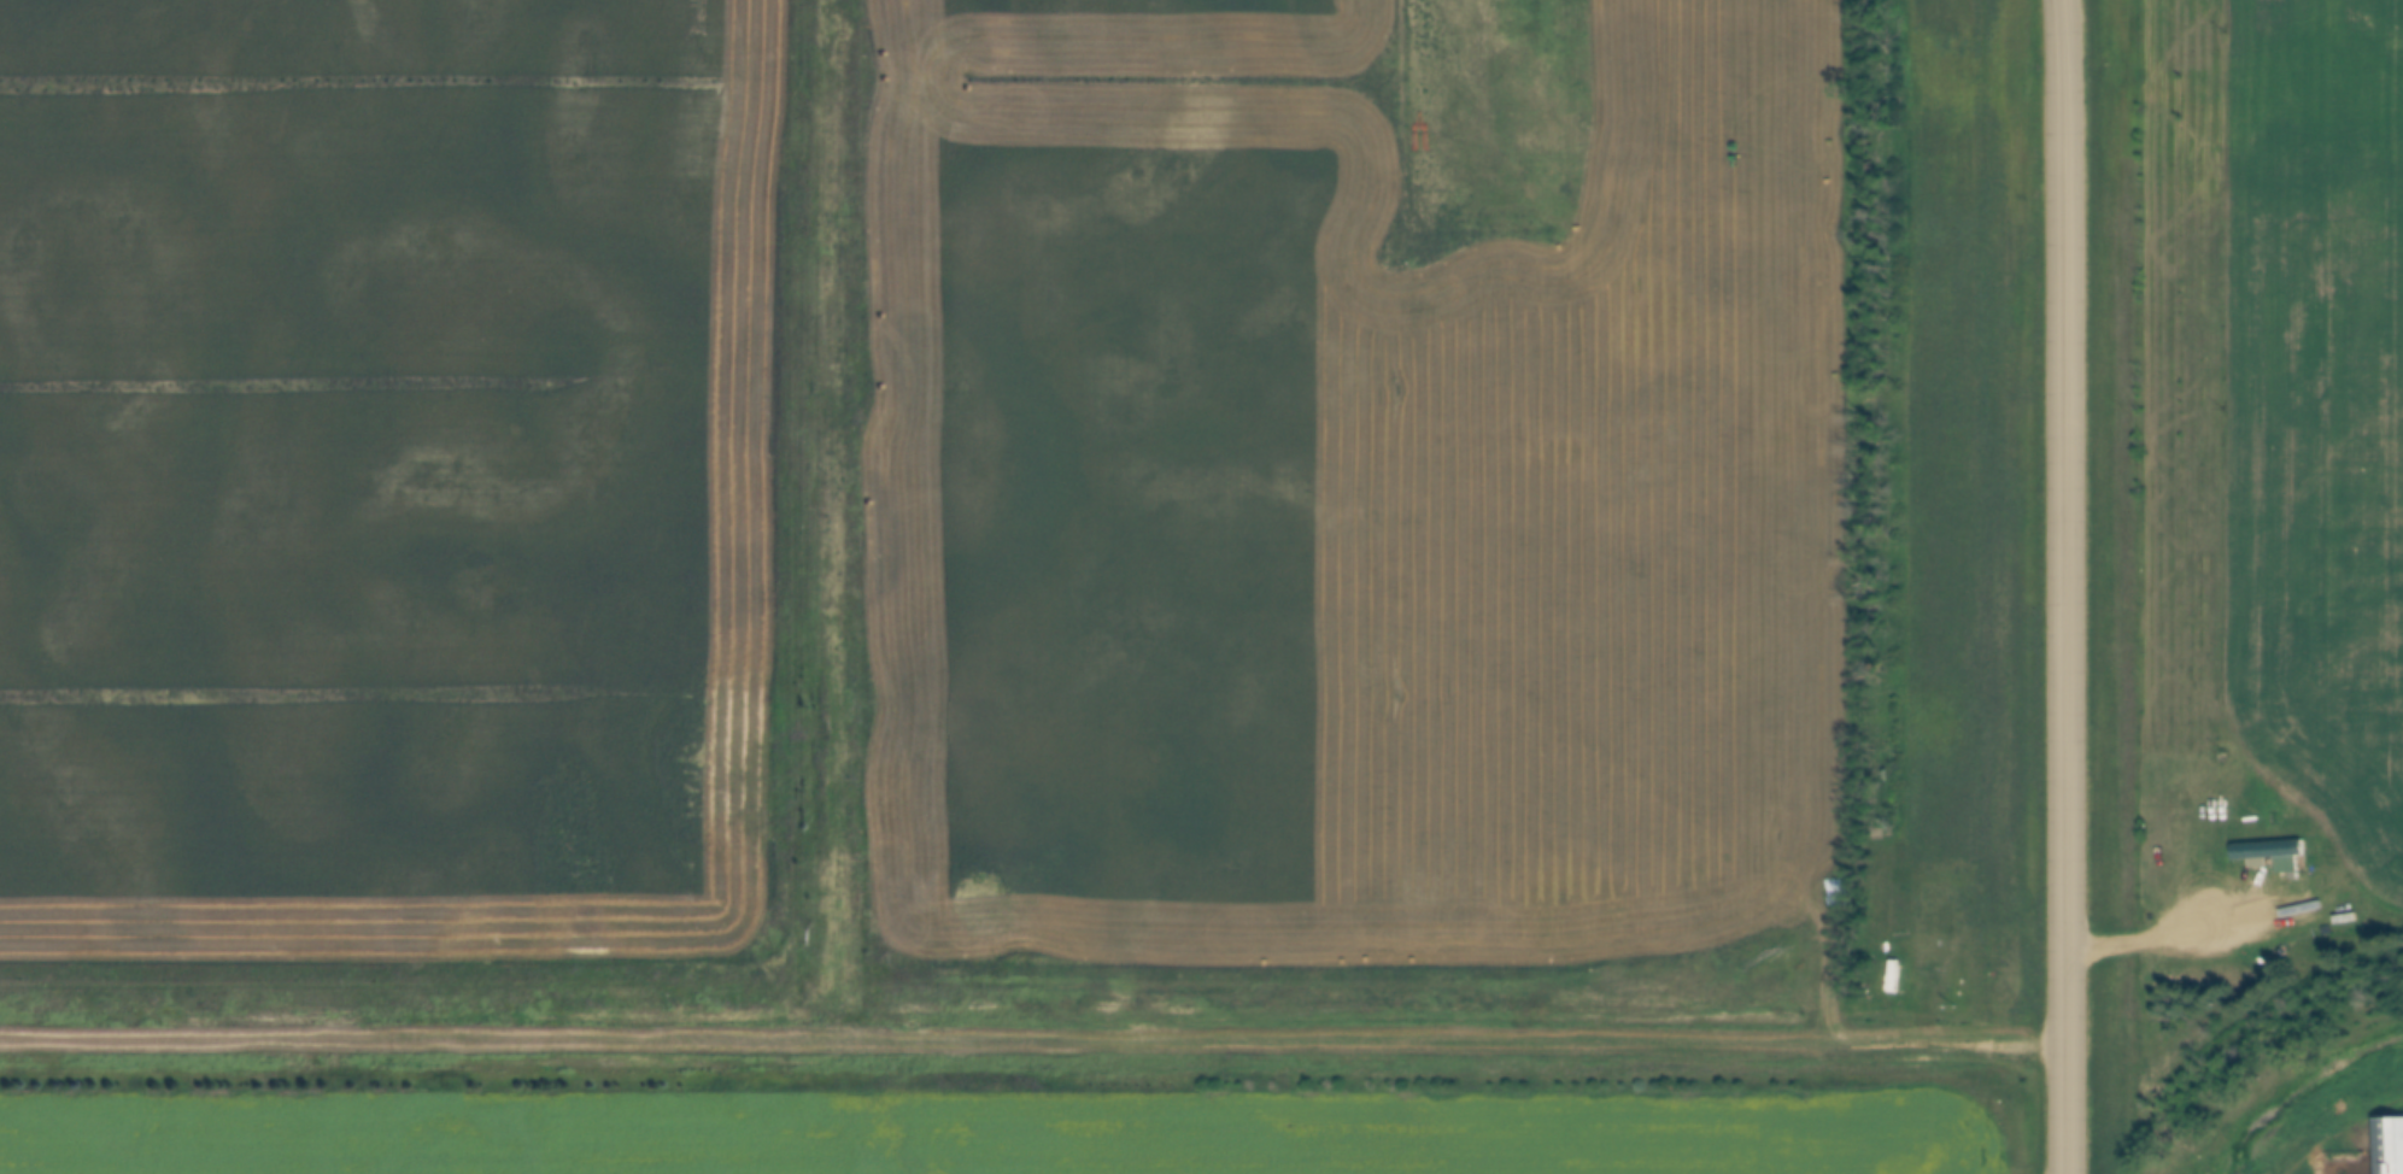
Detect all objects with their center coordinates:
road: (2067, 586)
building: (2266, 851)
road: (1991, 1059)

